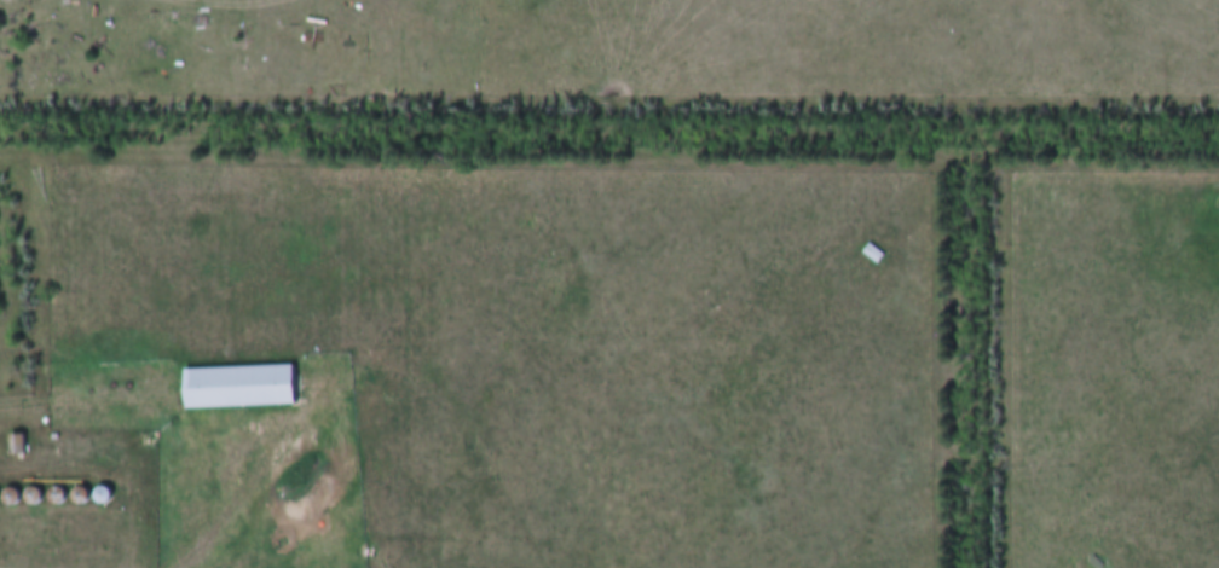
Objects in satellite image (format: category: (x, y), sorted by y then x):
building: (874, 254)
building: (241, 388)
building: (18, 446)
building: (1098, 563)

